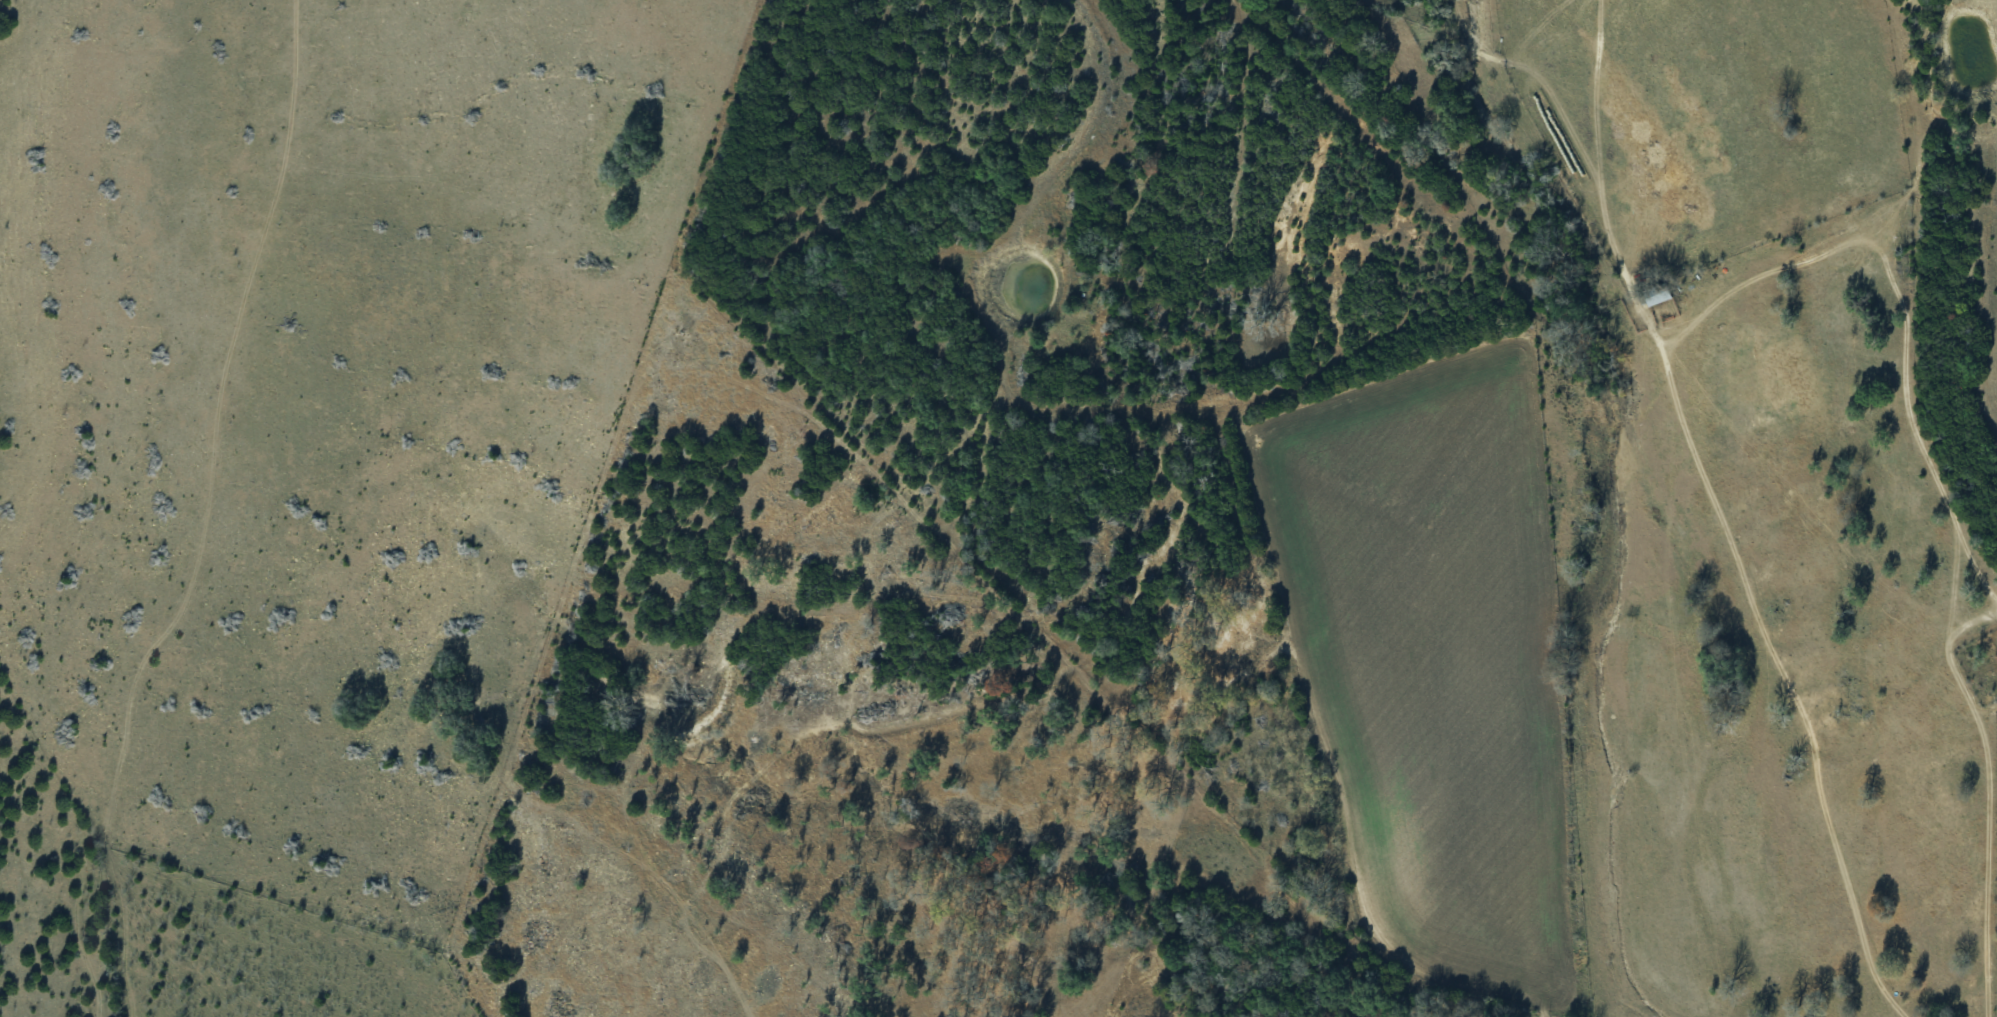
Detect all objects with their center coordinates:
building: (1661, 294)

